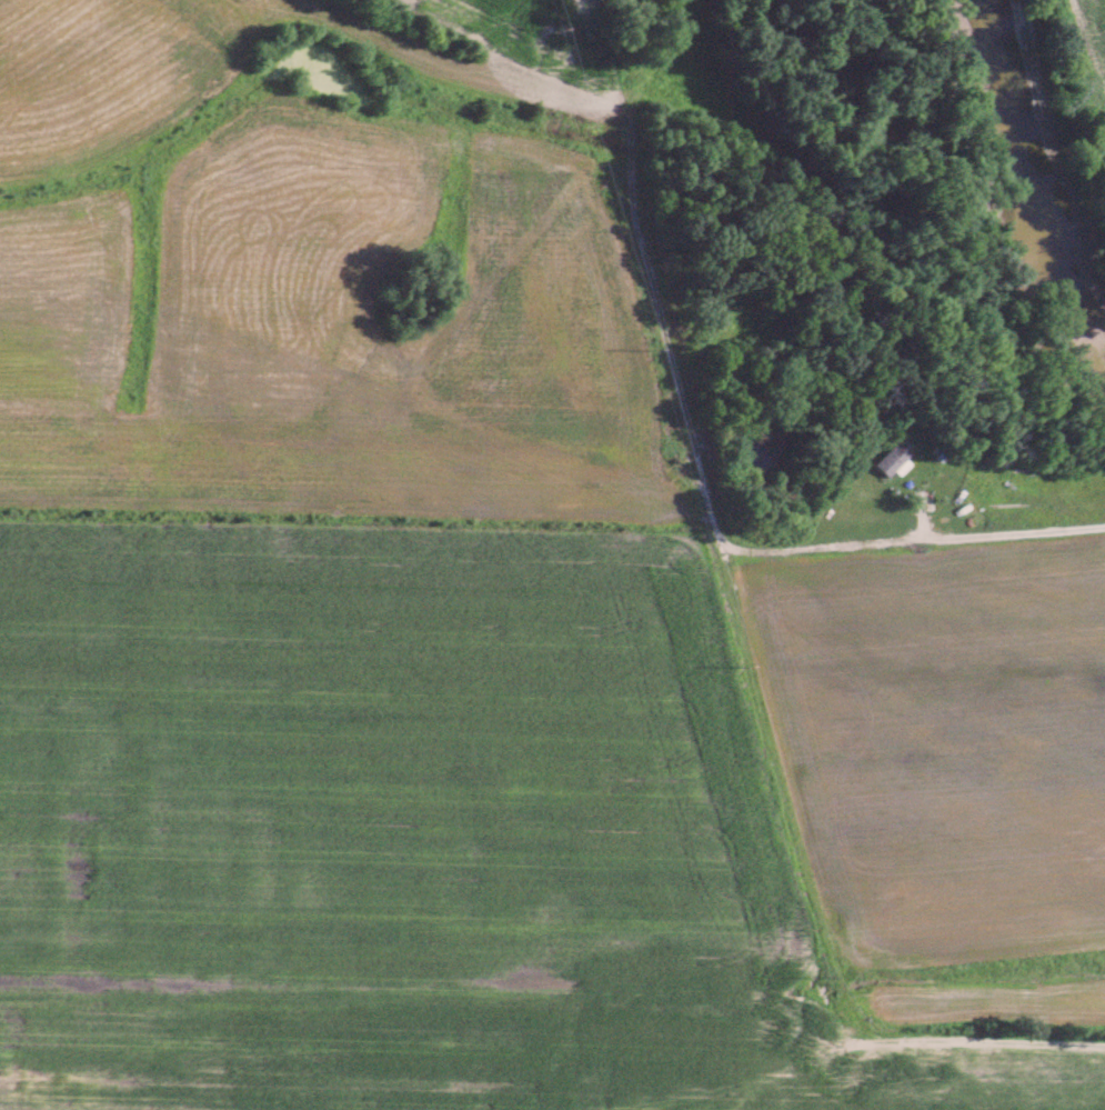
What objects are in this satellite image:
river: (1012, 174)
building: (895, 460)
road: (721, 532)

